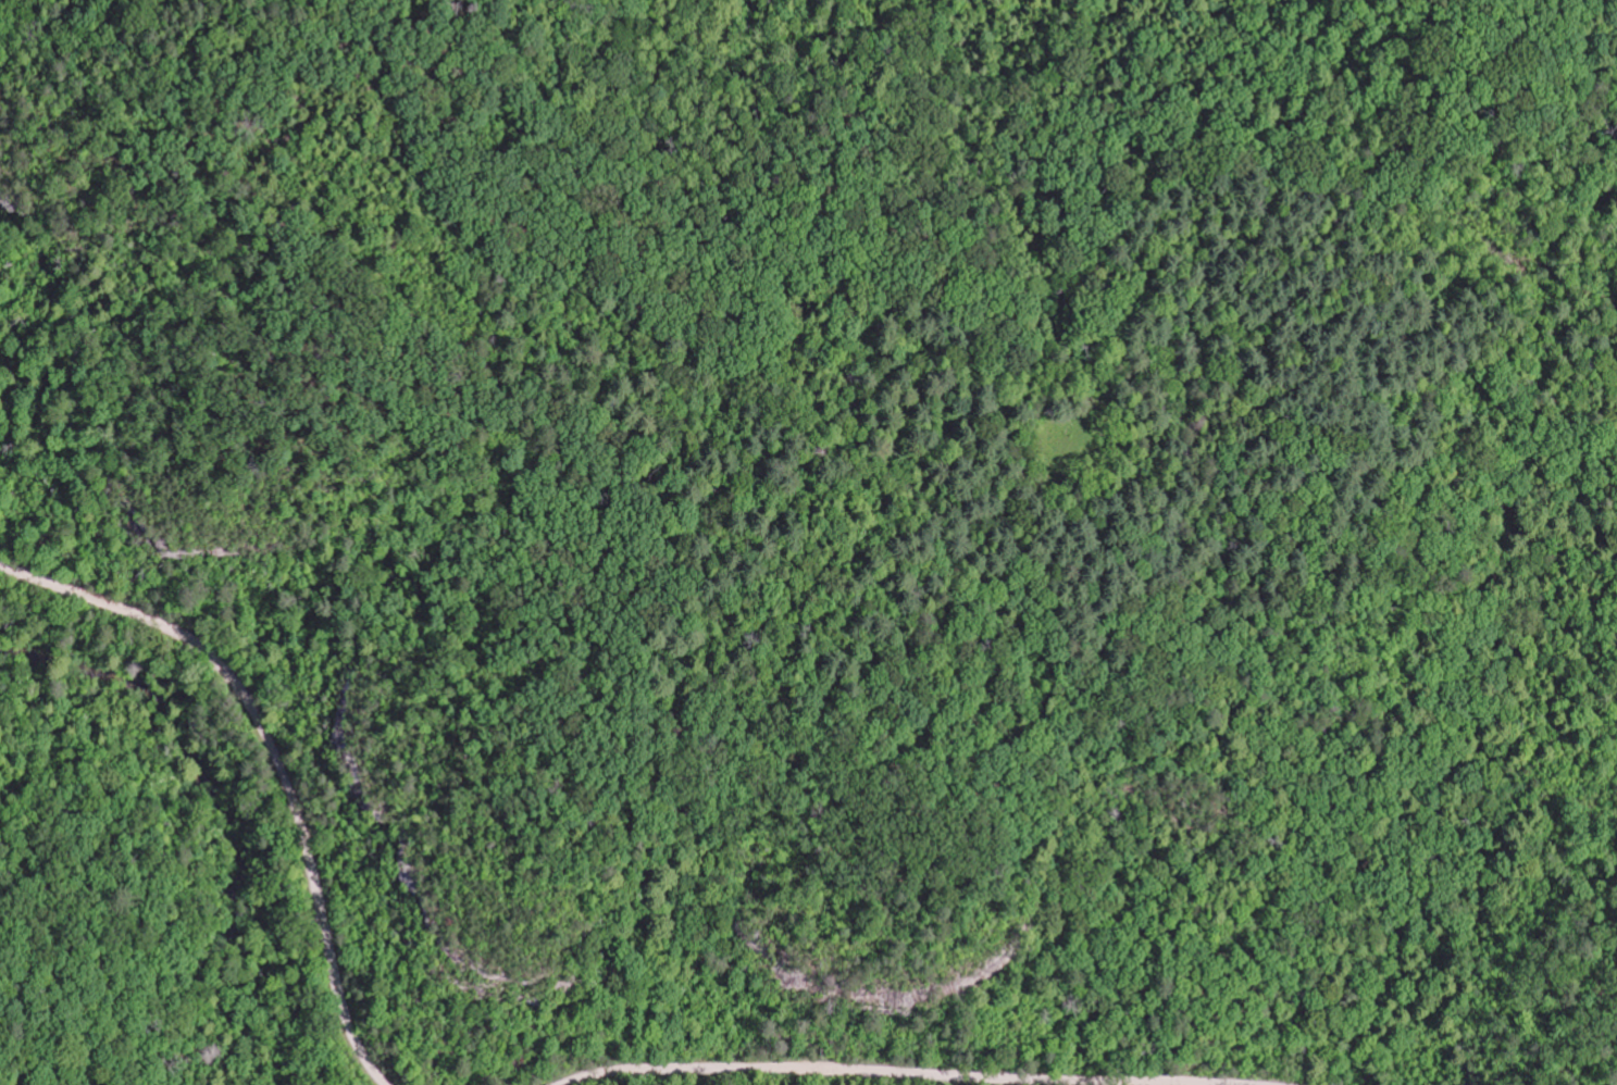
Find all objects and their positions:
road: (274, 754)
road: (196, 821)
road: (904, 1070)

